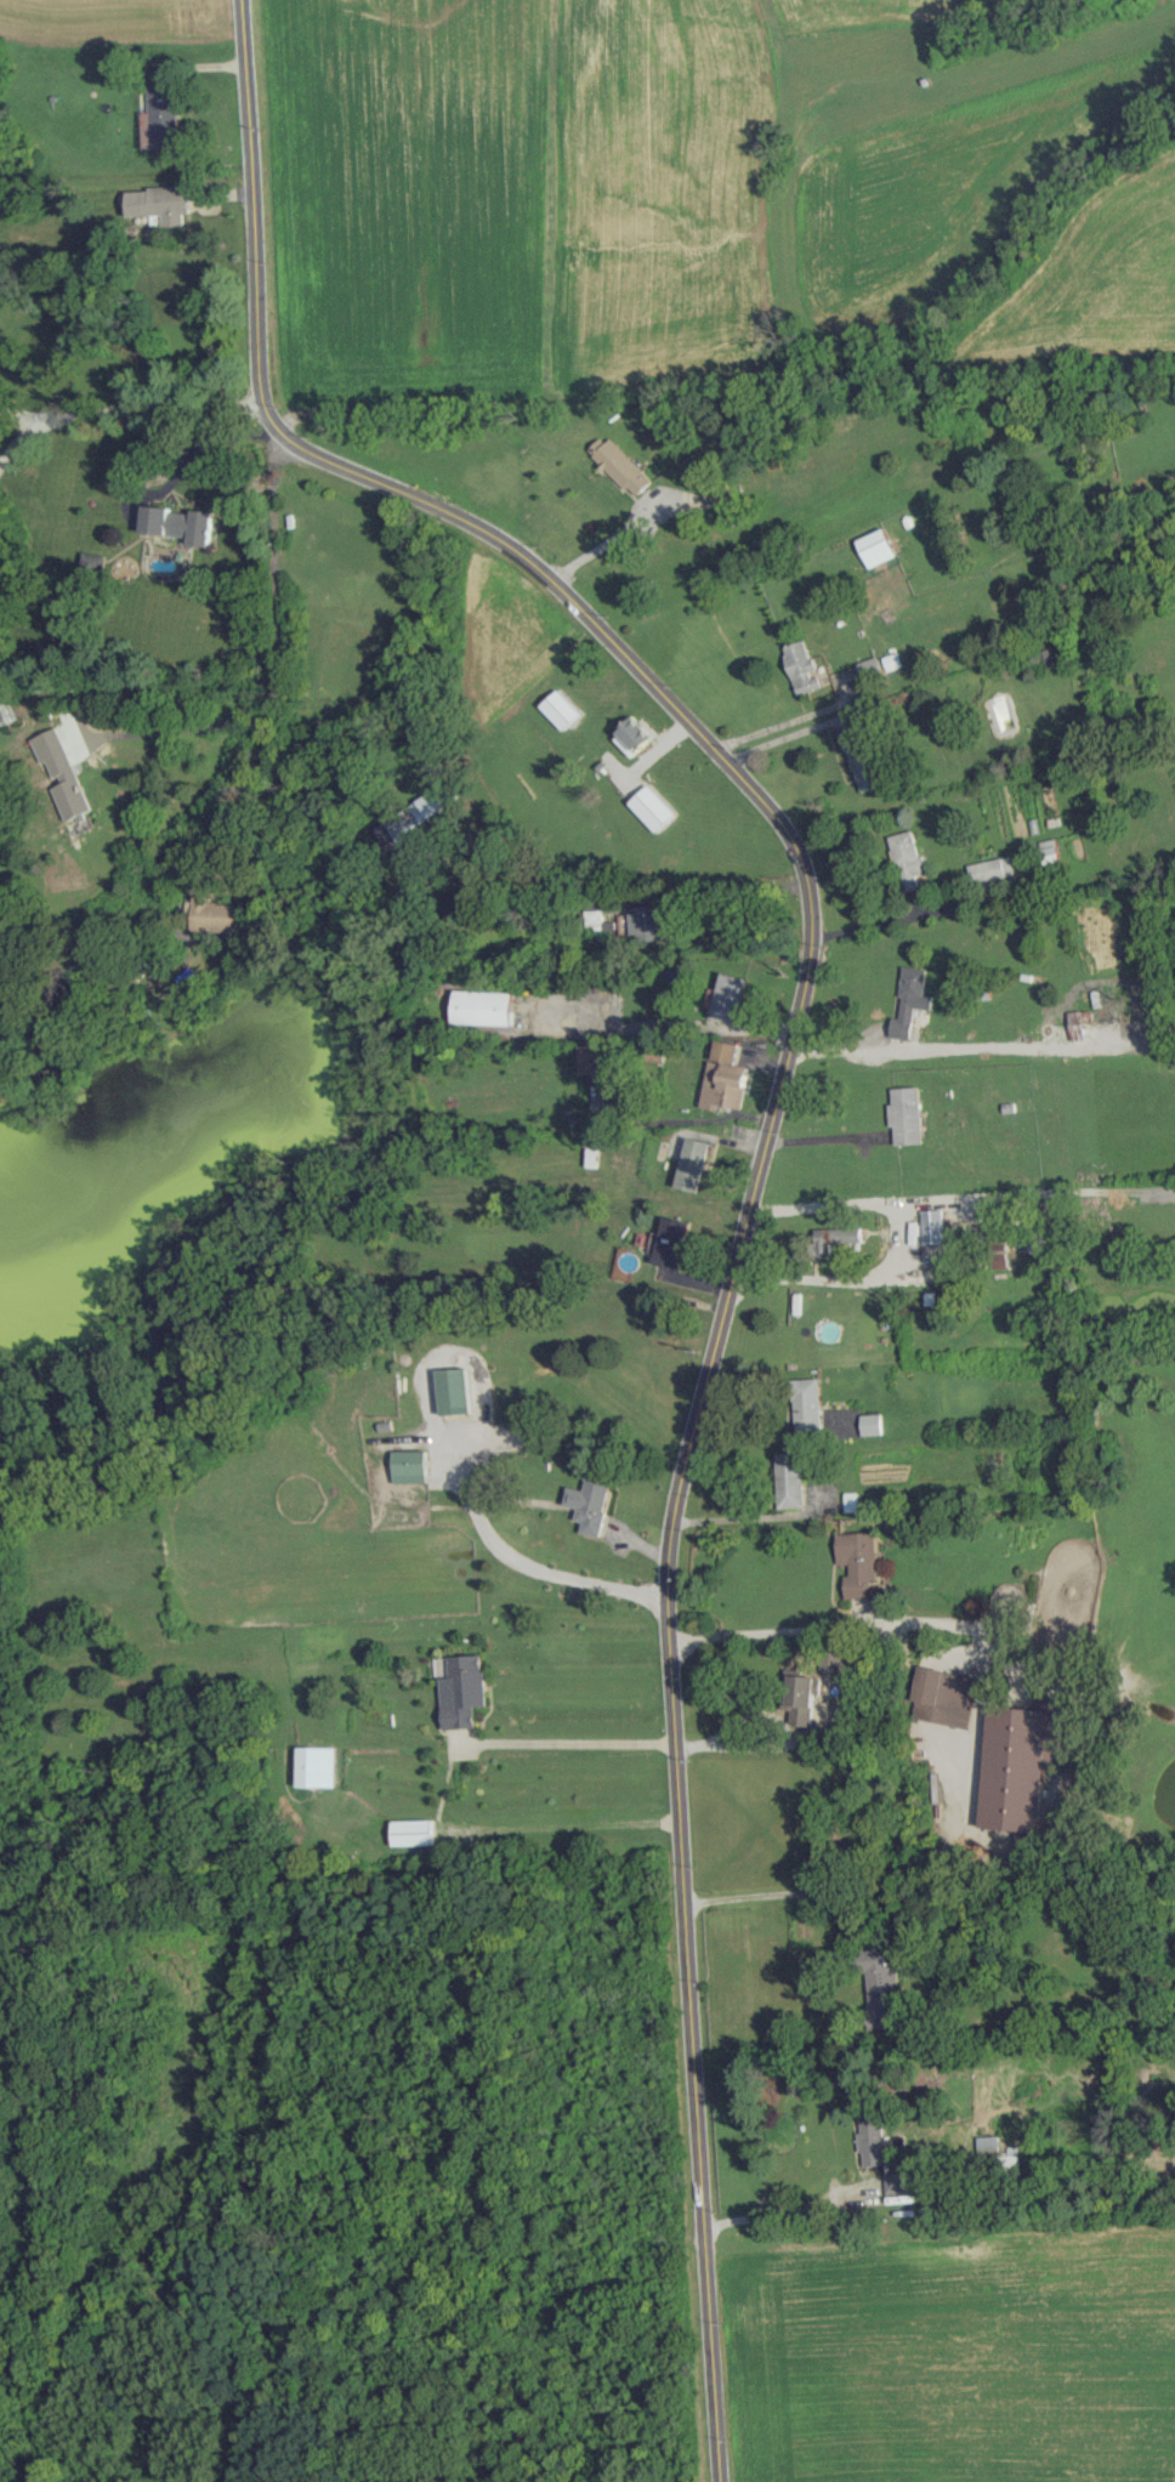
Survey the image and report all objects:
crop: (857, 15)
crop: (114, 19)
building: (163, 114)
crop: (940, 188)
crop: (651, 194)
crop: (405, 197)
road: (248, 201)
building: (155, 203)
crop: (1094, 280)
road: (120, 409)
road: (24, 413)
building: (619, 465)
road: (166, 483)
building: (722, 500)
building: (178, 523)
building: (875, 547)
road: (273, 561)
building: (801, 666)
building: (867, 666)
building: (562, 709)
road: (782, 721)
road: (181, 726)
road: (788, 734)
building: (634, 735)
building: (862, 760)
building: (59, 773)
road: (243, 782)
building: (653, 807)
building: (405, 819)
building: (1050, 852)
building: (907, 858)
building: (992, 869)
road: (804, 870)
road: (726, 887)
building: (212, 915)
building: (591, 916)
building: (646, 921)
building: (727, 996)
building: (910, 1000)
building: (482, 1006)
road: (668, 1024)
building: (1082, 1024)
road: (926, 1044)
building: (587, 1058)
building: (723, 1077)
building: (906, 1114)
building: (587, 1155)
building: (692, 1164)
building: (930, 1225)
building: (834, 1238)
building: (669, 1242)
road: (893, 1250)
building: (998, 1254)
building: (455, 1390)
building: (806, 1403)
building: (870, 1424)
road: (447, 1449)
building: (410, 1465)
building: (789, 1478)
building: (587, 1501)
road: (748, 1516)
building: (858, 1562)
road: (857, 1620)
building: (839, 1659)
building: (464, 1691)
building: (942, 1696)
building: (801, 1697)
road: (564, 1742)
road: (776, 1744)
building: (1015, 1762)
building: (318, 1766)
road: (563, 1824)
building: (411, 1831)
road: (774, 1890)
building: (880, 1987)
road: (692, 2035)
building: (872, 2141)
road: (788, 2211)
crop: (955, 2358)

